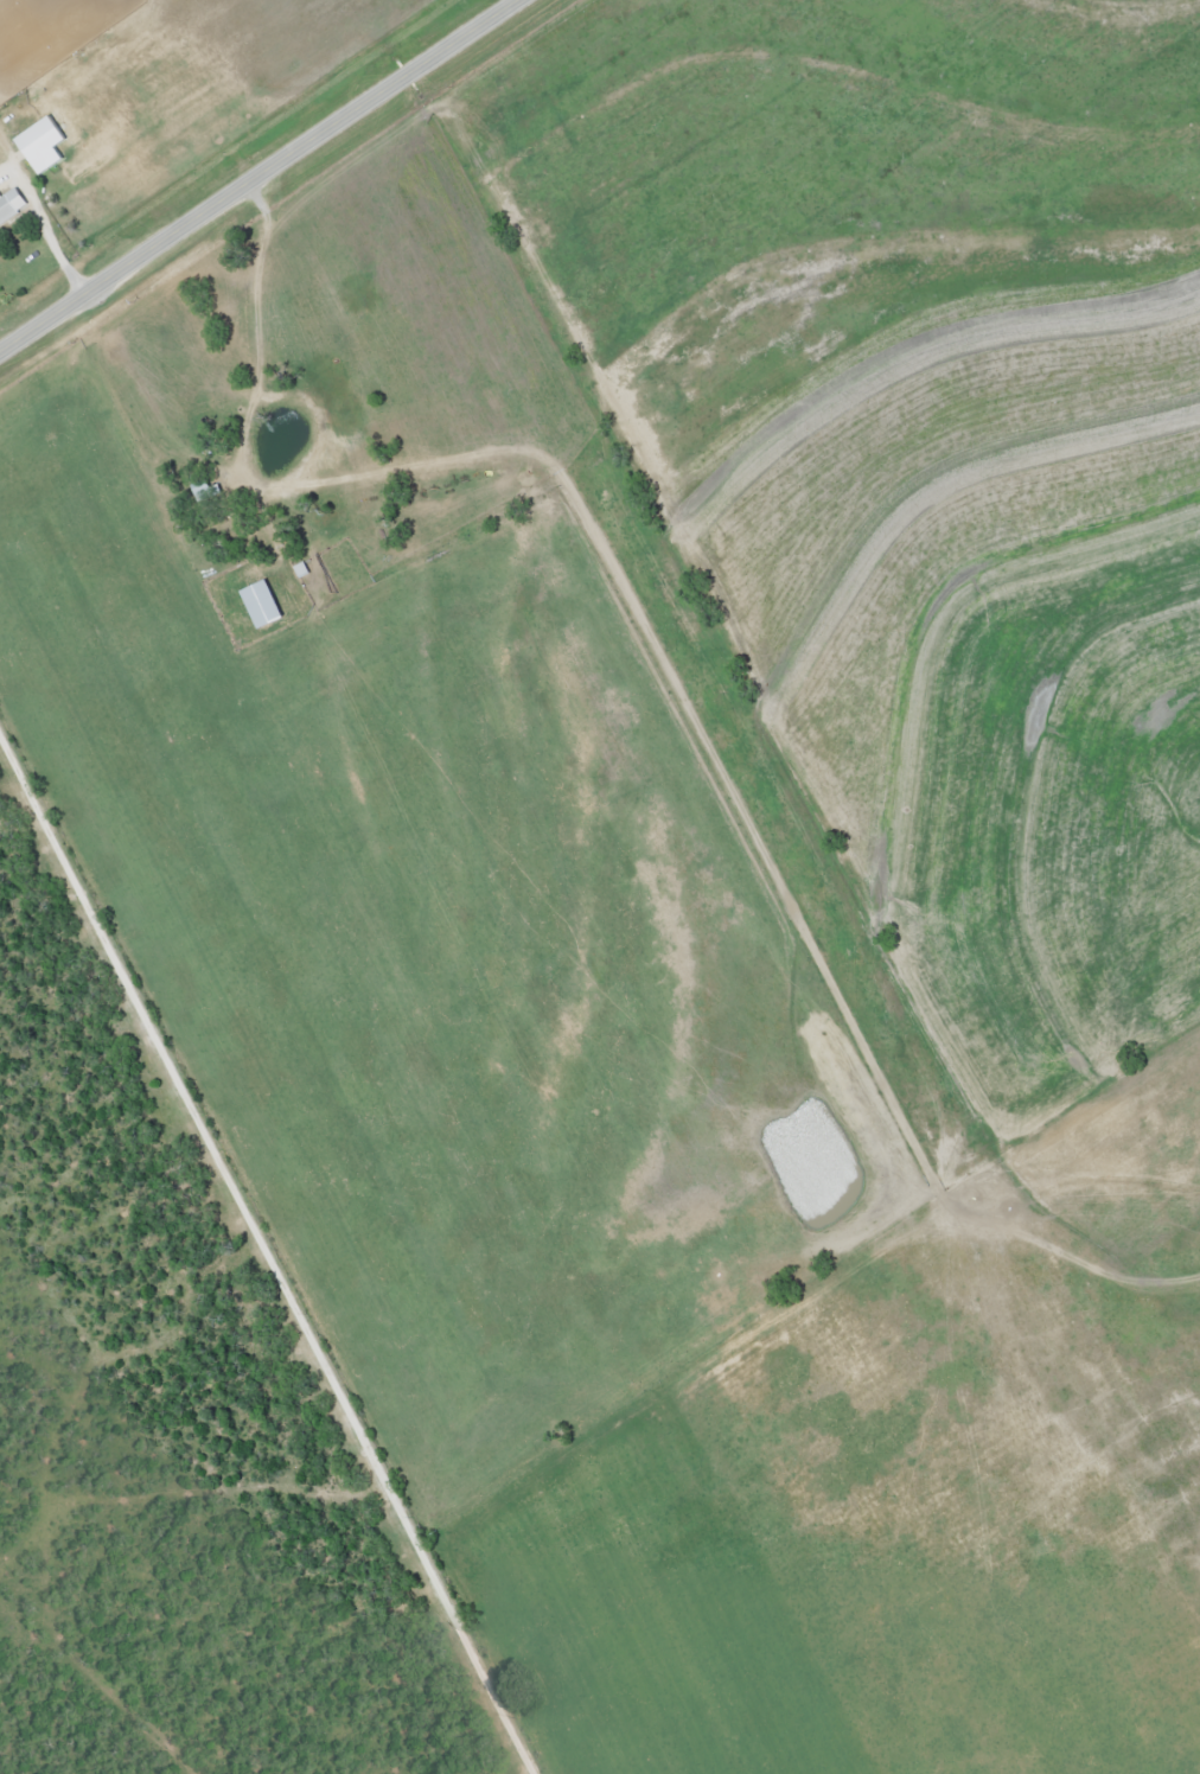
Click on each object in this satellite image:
road: (257, 176)
building: (11, 206)
road: (53, 247)
road: (457, 454)
building: (204, 492)
building: (261, 606)
road: (266, 1257)

